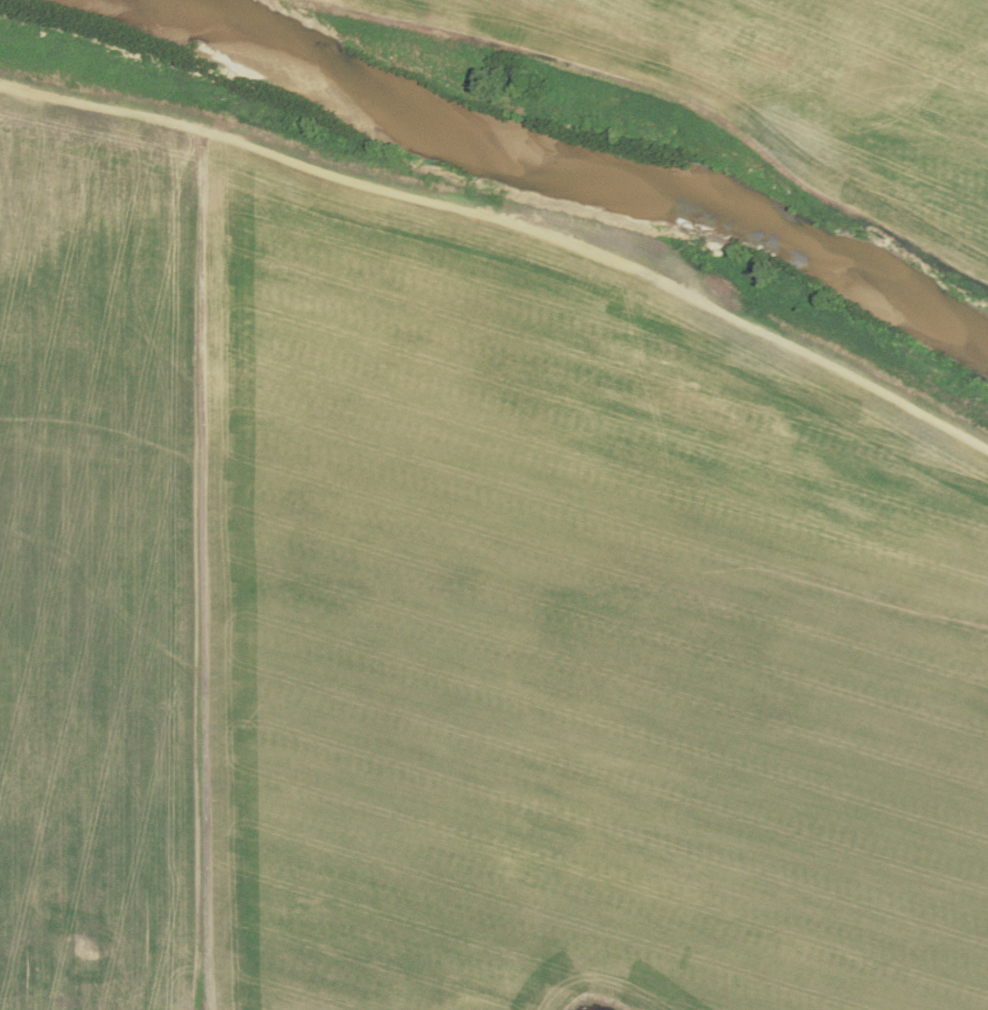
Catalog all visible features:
river: (553, 139)

